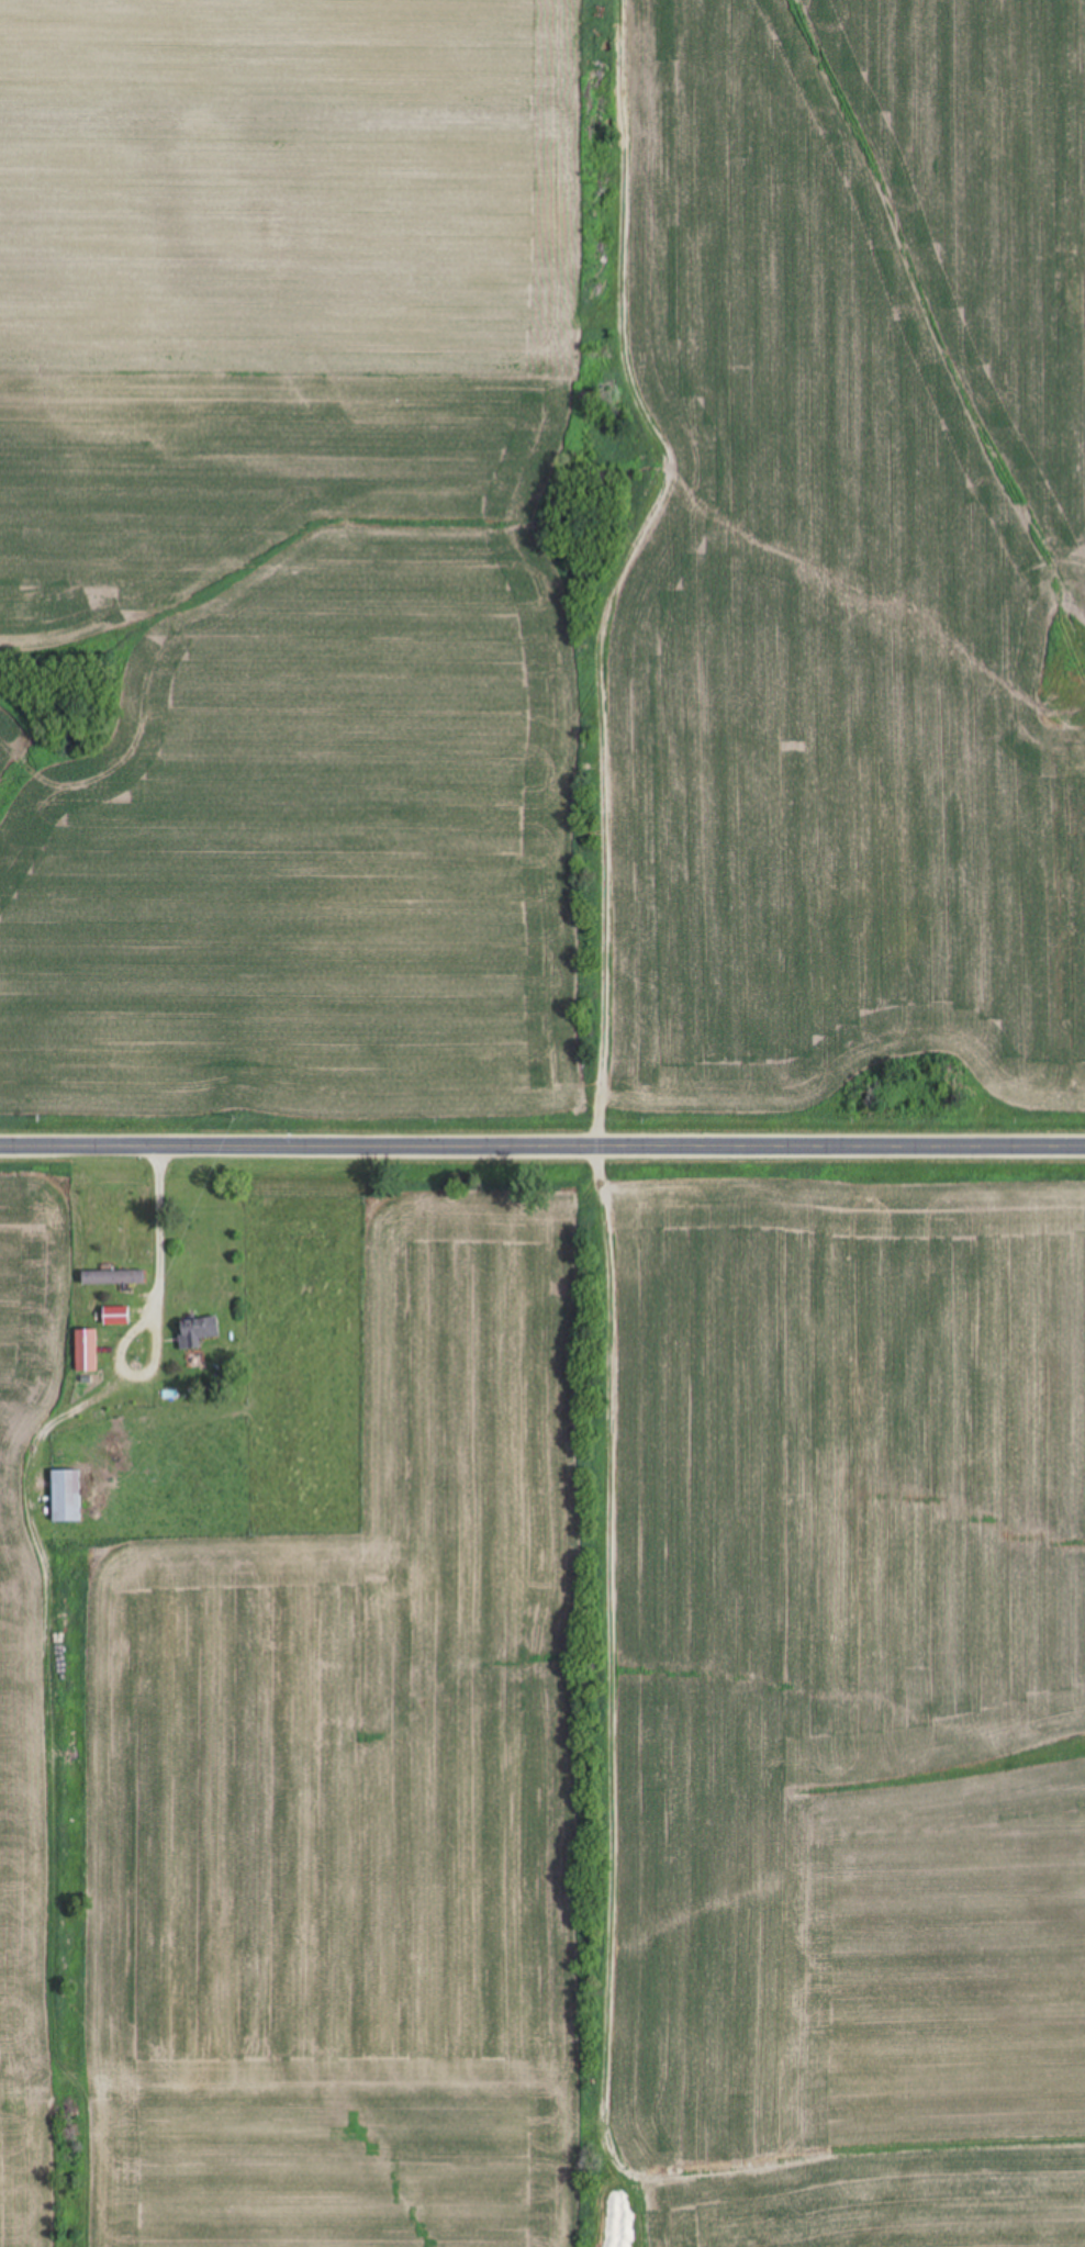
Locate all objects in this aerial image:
road: (541, 1143)
building: (111, 1277)
road: (157, 1313)
building: (114, 1317)
building: (195, 1332)
building: (85, 1351)
building: (65, 1496)

